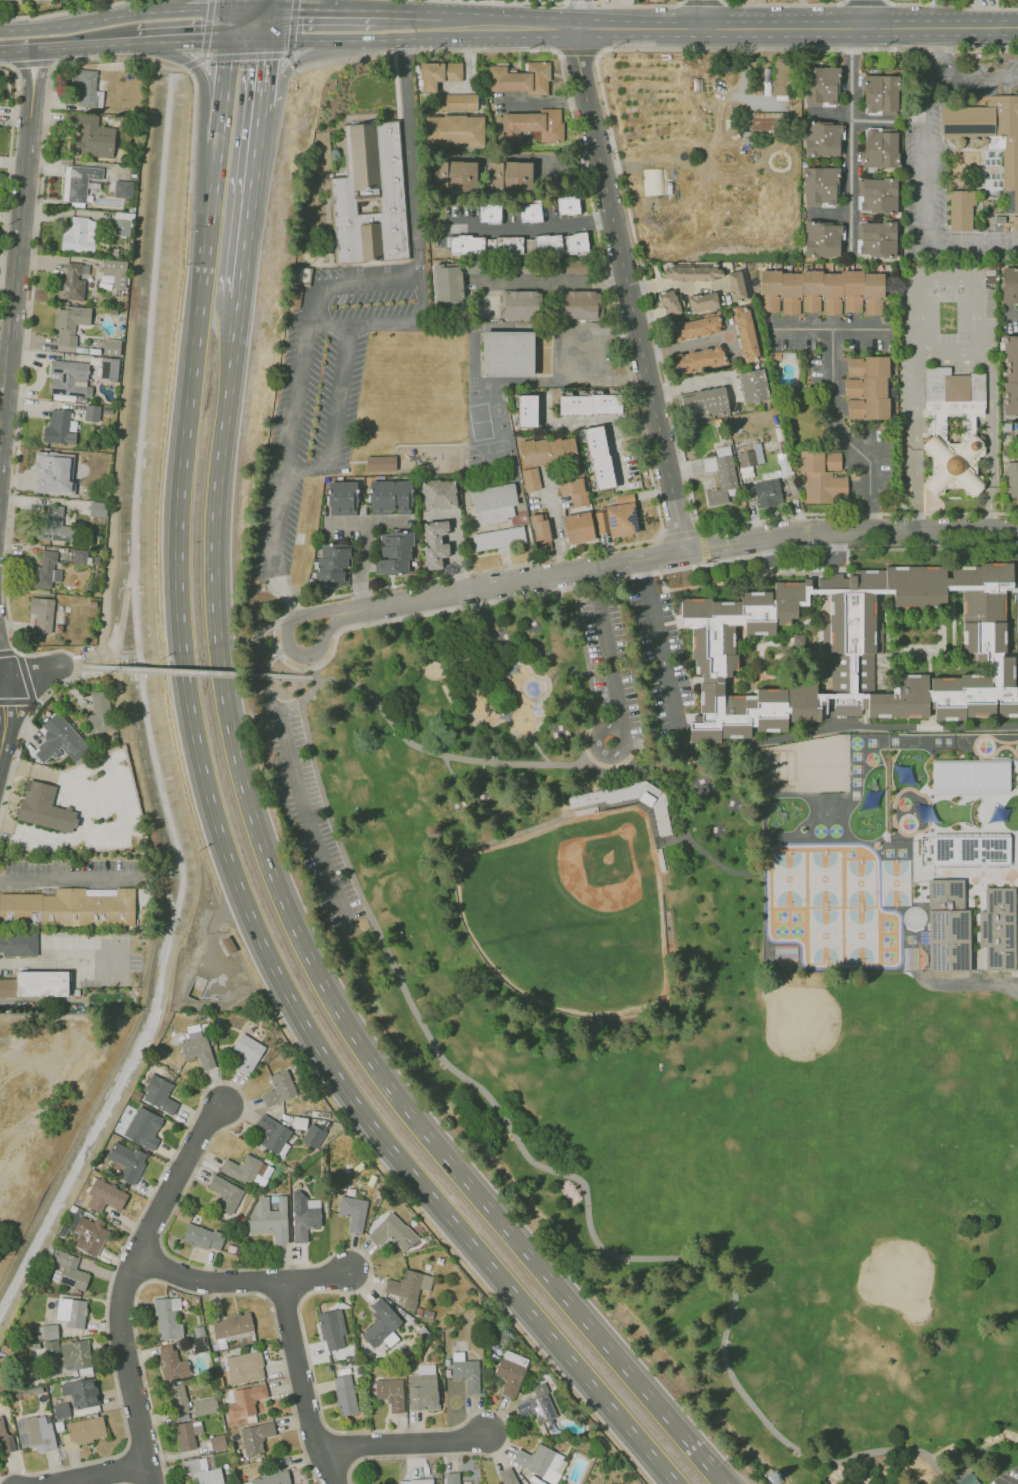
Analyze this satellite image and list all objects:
road: (480, 0)
road: (702, 0)
road: (528, 1)
road: (570, 1)
road: (864, 1)
road: (579, 2)
road: (587, 2)
road: (272, 4)
road: (782, 4)
road: (179, 5)
road: (232, 5)
road: (324, 5)
road: (637, 5)
road: (951, 5)
road: (252, 9)
traffic signals: (272, 9)
road: (323, 9)
road: (209, 10)
traffic signals: (232, 10)
road: (64, 11)
road: (174, 11)
road: (408, 11)
road: (866, 12)
road: (566, 13)
road: (590, 13)
road: (701, 13)
road: (81, 23)
road: (270, 23)
road: (230, 25)
road: (291, 25)
road: (207, 26)
road: (584, 26)
road: (807, 26)
road: (498, 27)
road: (564, 27)
traffic signals: (269, 38)
road: (355, 38)
road: (249, 39)
road: (206, 40)
traffic signals: (229, 40)
road: (152, 41)
road: (172, 41)
road: (72, 47)
road: (171, 49)
road: (578, 52)
road: (285, 54)
road: (289, 54)
road: (203, 56)
road: (246, 56)
road: (206, 57)
road: (296, 61)
road: (265, 62)
road: (190, 63)
road: (292, 63)
road: (32, 64)
road: (170, 64)
building: (439, 74)
building: (779, 77)
building: (520, 78)
road: (978, 79)
building: (821, 88)
building: (86, 89)
building: (881, 95)
road: (262, 96)
road: (204, 98)
building: (456, 103)
road: (547, 105)
building: (761, 120)
building: (533, 124)
road: (192, 127)
building: (453, 131)
building: (989, 135)
building: (88, 136)
building: (823, 140)
road: (851, 140)
building: (880, 149)
road: (9, 153)
road: (504, 156)
road: (568, 156)
road: (411, 158)
road: (927, 173)
building: (460, 176)
building: (509, 176)
building: (80, 181)
building: (653, 181)
building: (822, 186)
building: (122, 188)
building: (879, 196)
road: (251, 201)
building: (567, 204)
building: (390, 206)
building: (961, 210)
building: (530, 212)
building: (489, 213)
building: (120, 226)
road: (526, 227)
building: (79, 235)
building: (824, 238)
building: (880, 240)
building: (575, 241)
road: (634, 242)
building: (547, 243)
building: (466, 244)
building: (509, 245)
road: (18, 252)
building: (477, 267)
building: (525, 267)
building: (577, 267)
building: (115, 272)
building: (712, 278)
road: (553, 279)
building: (72, 281)
road: (352, 282)
building: (447, 282)
road: (947, 282)
road: (627, 290)
building: (1010, 291)
building: (821, 293)
building: (703, 299)
building: (519, 303)
building: (578, 303)
building: (668, 303)
building: (69, 322)
building: (696, 328)
road: (833, 330)
building: (745, 337)
building: (111, 346)
road: (952, 350)
building: (508, 353)
road: (581, 358)
building: (700, 358)
building: (109, 368)
building: (1011, 375)
building: (69, 377)
road: (689, 385)
building: (753, 385)
building: (868, 386)
building: (953, 390)
park: (474, 393)
park: (408, 394)
road: (298, 396)
road: (632, 396)
building: (591, 403)
building: (706, 403)
road: (335, 411)
building: (528, 411)
building: (91, 412)
parking lot: (320, 412)
road: (571, 420)
park: (480, 421)
building: (59, 427)
road: (18, 428)
road: (613, 435)
road: (845, 435)
building: (543, 452)
building: (600, 456)
park: (488, 458)
building: (749, 459)
building: (833, 460)
building: (382, 463)
building: (954, 467)
building: (53, 472)
building: (532, 480)
building: (723, 480)
building: (1011, 482)
building: (816, 486)
building: (574, 489)
building: (768, 490)
building: (437, 495)
building: (392, 497)
building: (342, 500)
building: (494, 502)
building: (97, 508)
building: (621, 520)
building: (54, 526)
road: (554, 528)
building: (580, 528)
building: (540, 529)
road: (853, 529)
road: (696, 531)
building: (499, 539)
building: (438, 541)
building: (390, 552)
building: (79, 556)
building: (340, 563)
road: (362, 564)
building: (45, 570)
road: (519, 582)
road: (554, 590)
road: (323, 610)
building: (41, 613)
parking lot: (604, 636)
road: (250, 644)
building: (851, 649)
road: (9, 652)
road: (608, 656)
road: (268, 662)
road: (69, 666)
road: (29, 672)
road: (196, 672)
road: (24, 675)
road: (315, 678)
road: (19, 701)
road: (593, 702)
road: (540, 707)
building: (99, 713)
road: (3, 717)
road: (493, 724)
building: (59, 739)
road: (754, 741)
road: (444, 755)
road: (35, 771)
building: (970, 774)
road: (115, 793)
road: (302, 806)
building: (44, 808)
parking lot: (311, 817)
building: (660, 821)
road: (218, 832)
road: (68, 837)
building: (971, 850)
road: (61, 878)
road: (767, 878)
building: (69, 908)
park: (570, 915)
building: (948, 927)
building: (999, 929)
building: (18, 945)
road: (308, 955)
road: (58, 965)
building: (42, 983)
road: (960, 986)
building: (8, 988)
park: (666, 1036)
building: (197, 1048)
building: (246, 1052)
building: (278, 1088)
building: (159, 1094)
building: (143, 1127)
building: (273, 1134)
building: (313, 1135)
building: (126, 1161)
building: (241, 1168)
road: (565, 1173)
building: (225, 1193)
building: (104, 1196)
building: (352, 1211)
building: (303, 1214)
building: (269, 1216)
building: (392, 1231)
building: (89, 1234)
building: (202, 1237)
road: (203, 1266)
building: (69, 1269)
road: (126, 1281)
road: (237, 1282)
building: (408, 1286)
building: (71, 1311)
building: (167, 1318)
building: (381, 1324)
building: (232, 1326)
building: (331, 1328)
building: (46, 1332)
building: (51, 1347)
building: (75, 1355)
building: (171, 1363)
road: (300, 1364)
building: (244, 1366)
building: (465, 1371)
building: (510, 1371)
building: (422, 1388)
building: (80, 1392)
building: (389, 1393)
building: (344, 1394)
building: (177, 1398)
building: (244, 1401)
building: (538, 1403)
building: (204, 1405)
building: (83, 1431)
building: (35, 1432)
building: (186, 1433)
building: (255, 1435)
building: (4, 1438)
road: (408, 1444)
building: (541, 1461)
road: (329, 1465)
road: (96, 1472)
building: (202, 1472)
building: (507, 1476)
building: (451, 1478)
parking lot: (1010, 1478)
building: (268, 1479)
building: (969, 1479)
building: (407, 1482)

